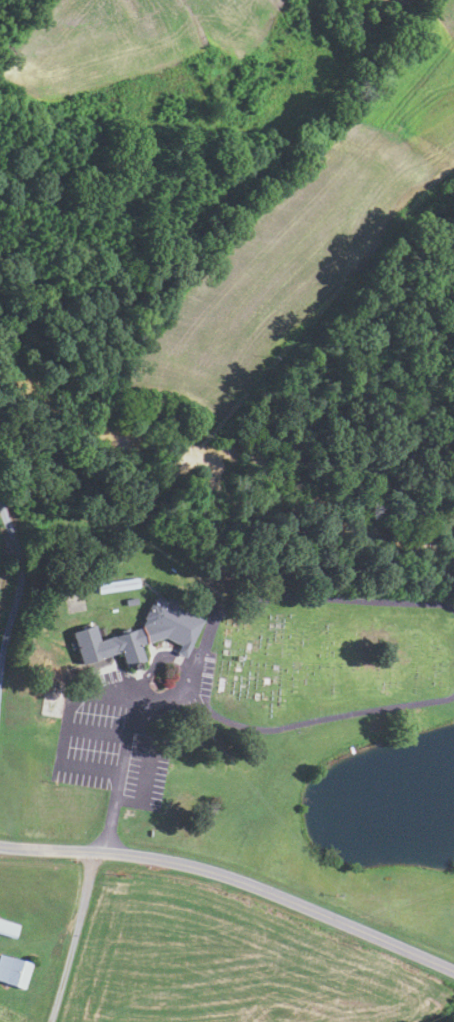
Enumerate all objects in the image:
crop: (130, 37)
crop: (312, 234)
building: (118, 585)
road: (303, 596)
building: (132, 601)
road: (21, 622)
building: (143, 633)
road: (168, 657)
park: (329, 659)
road: (158, 704)
road: (133, 705)
road: (317, 721)
road: (63, 730)
parking lot: (126, 731)
road: (95, 734)
road: (148, 765)
road: (119, 782)
road: (234, 878)
building: (9, 928)
road: (74, 937)
crop: (228, 966)
building: (14, 970)

